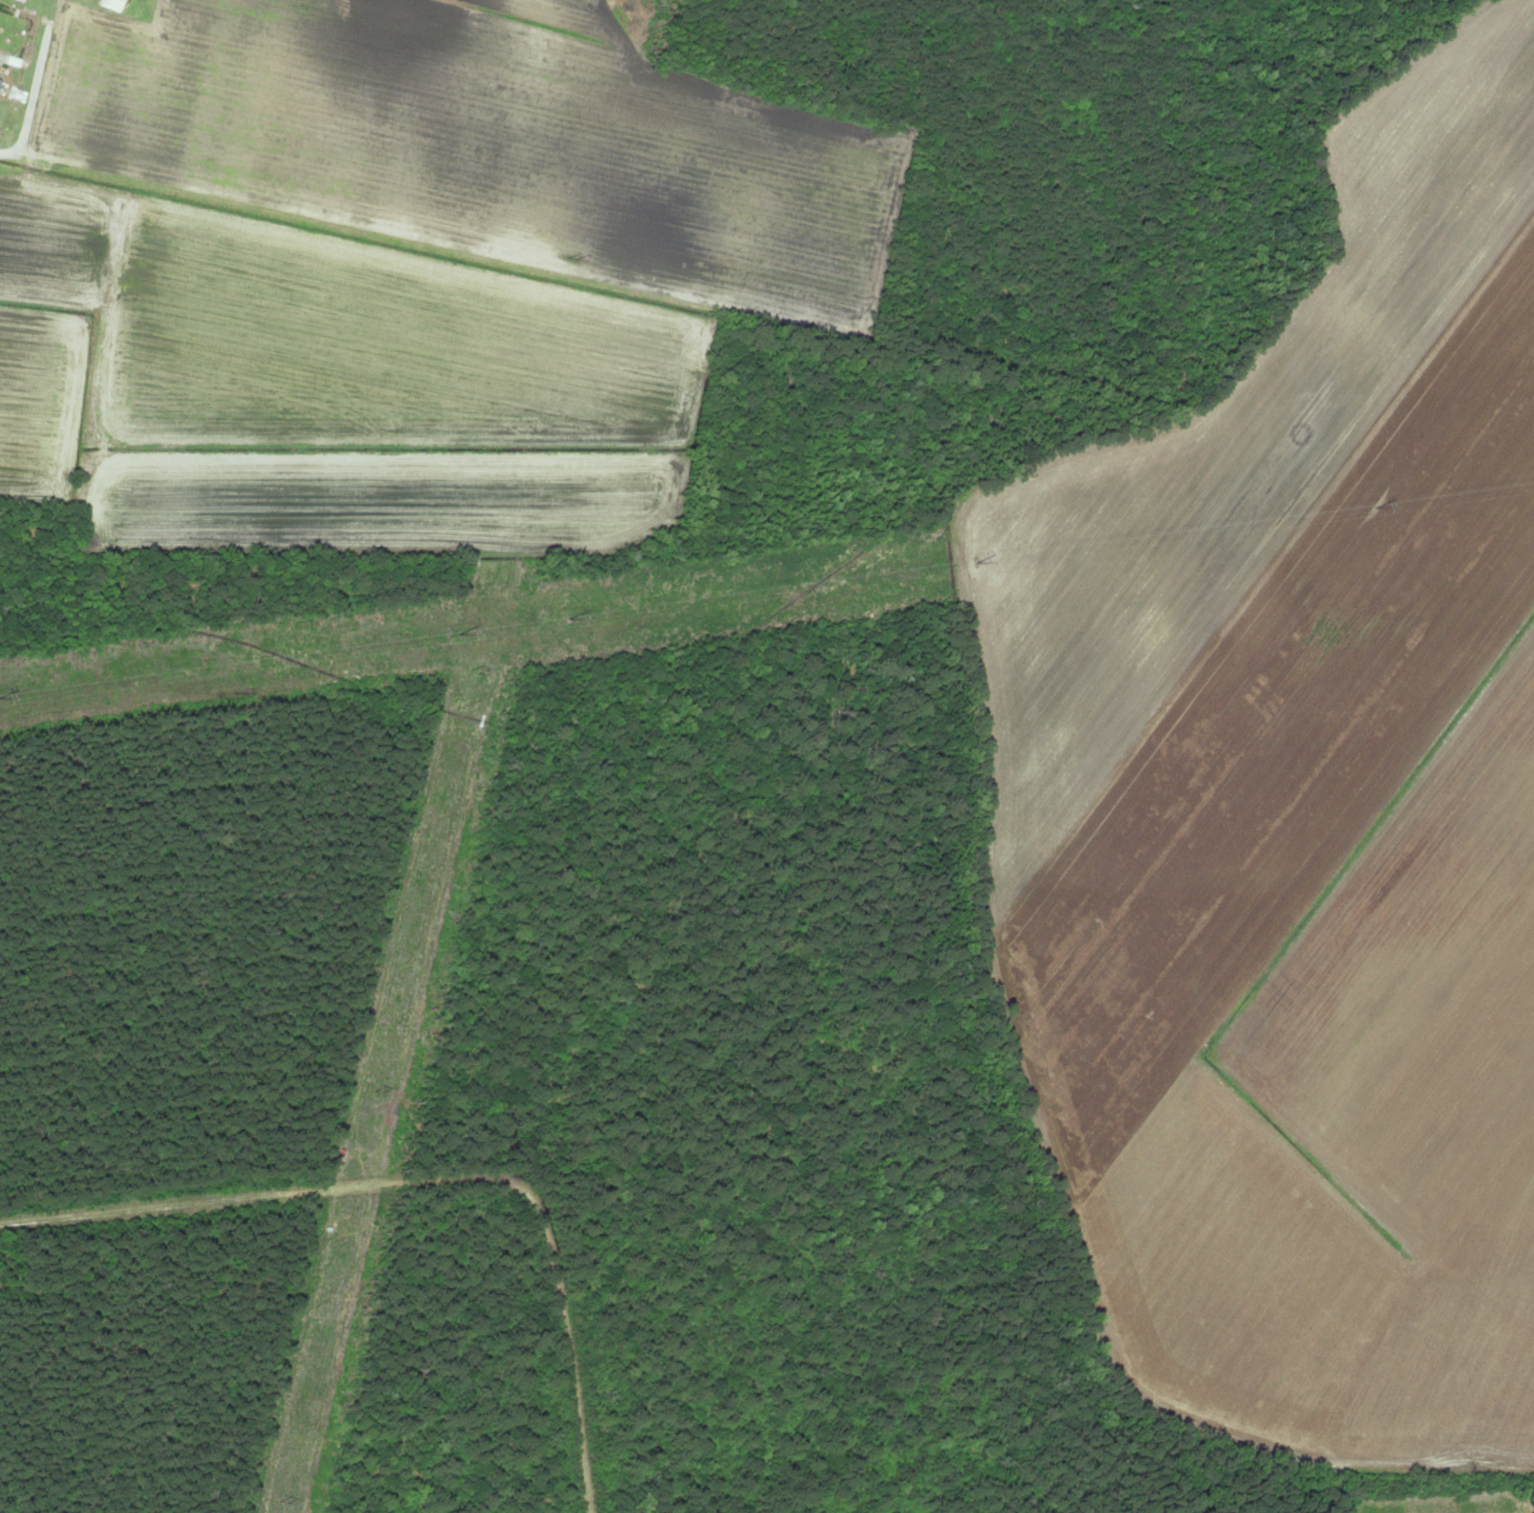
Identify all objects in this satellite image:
building: (21, 0)
building: (111, 4)
power tower: (571, 260)
power tower: (1376, 506)
power tower: (979, 562)
power tower: (568, 617)
power tower: (459, 633)
power tower: (471, 672)
power tower: (372, 1089)
power tower: (282, 1499)

